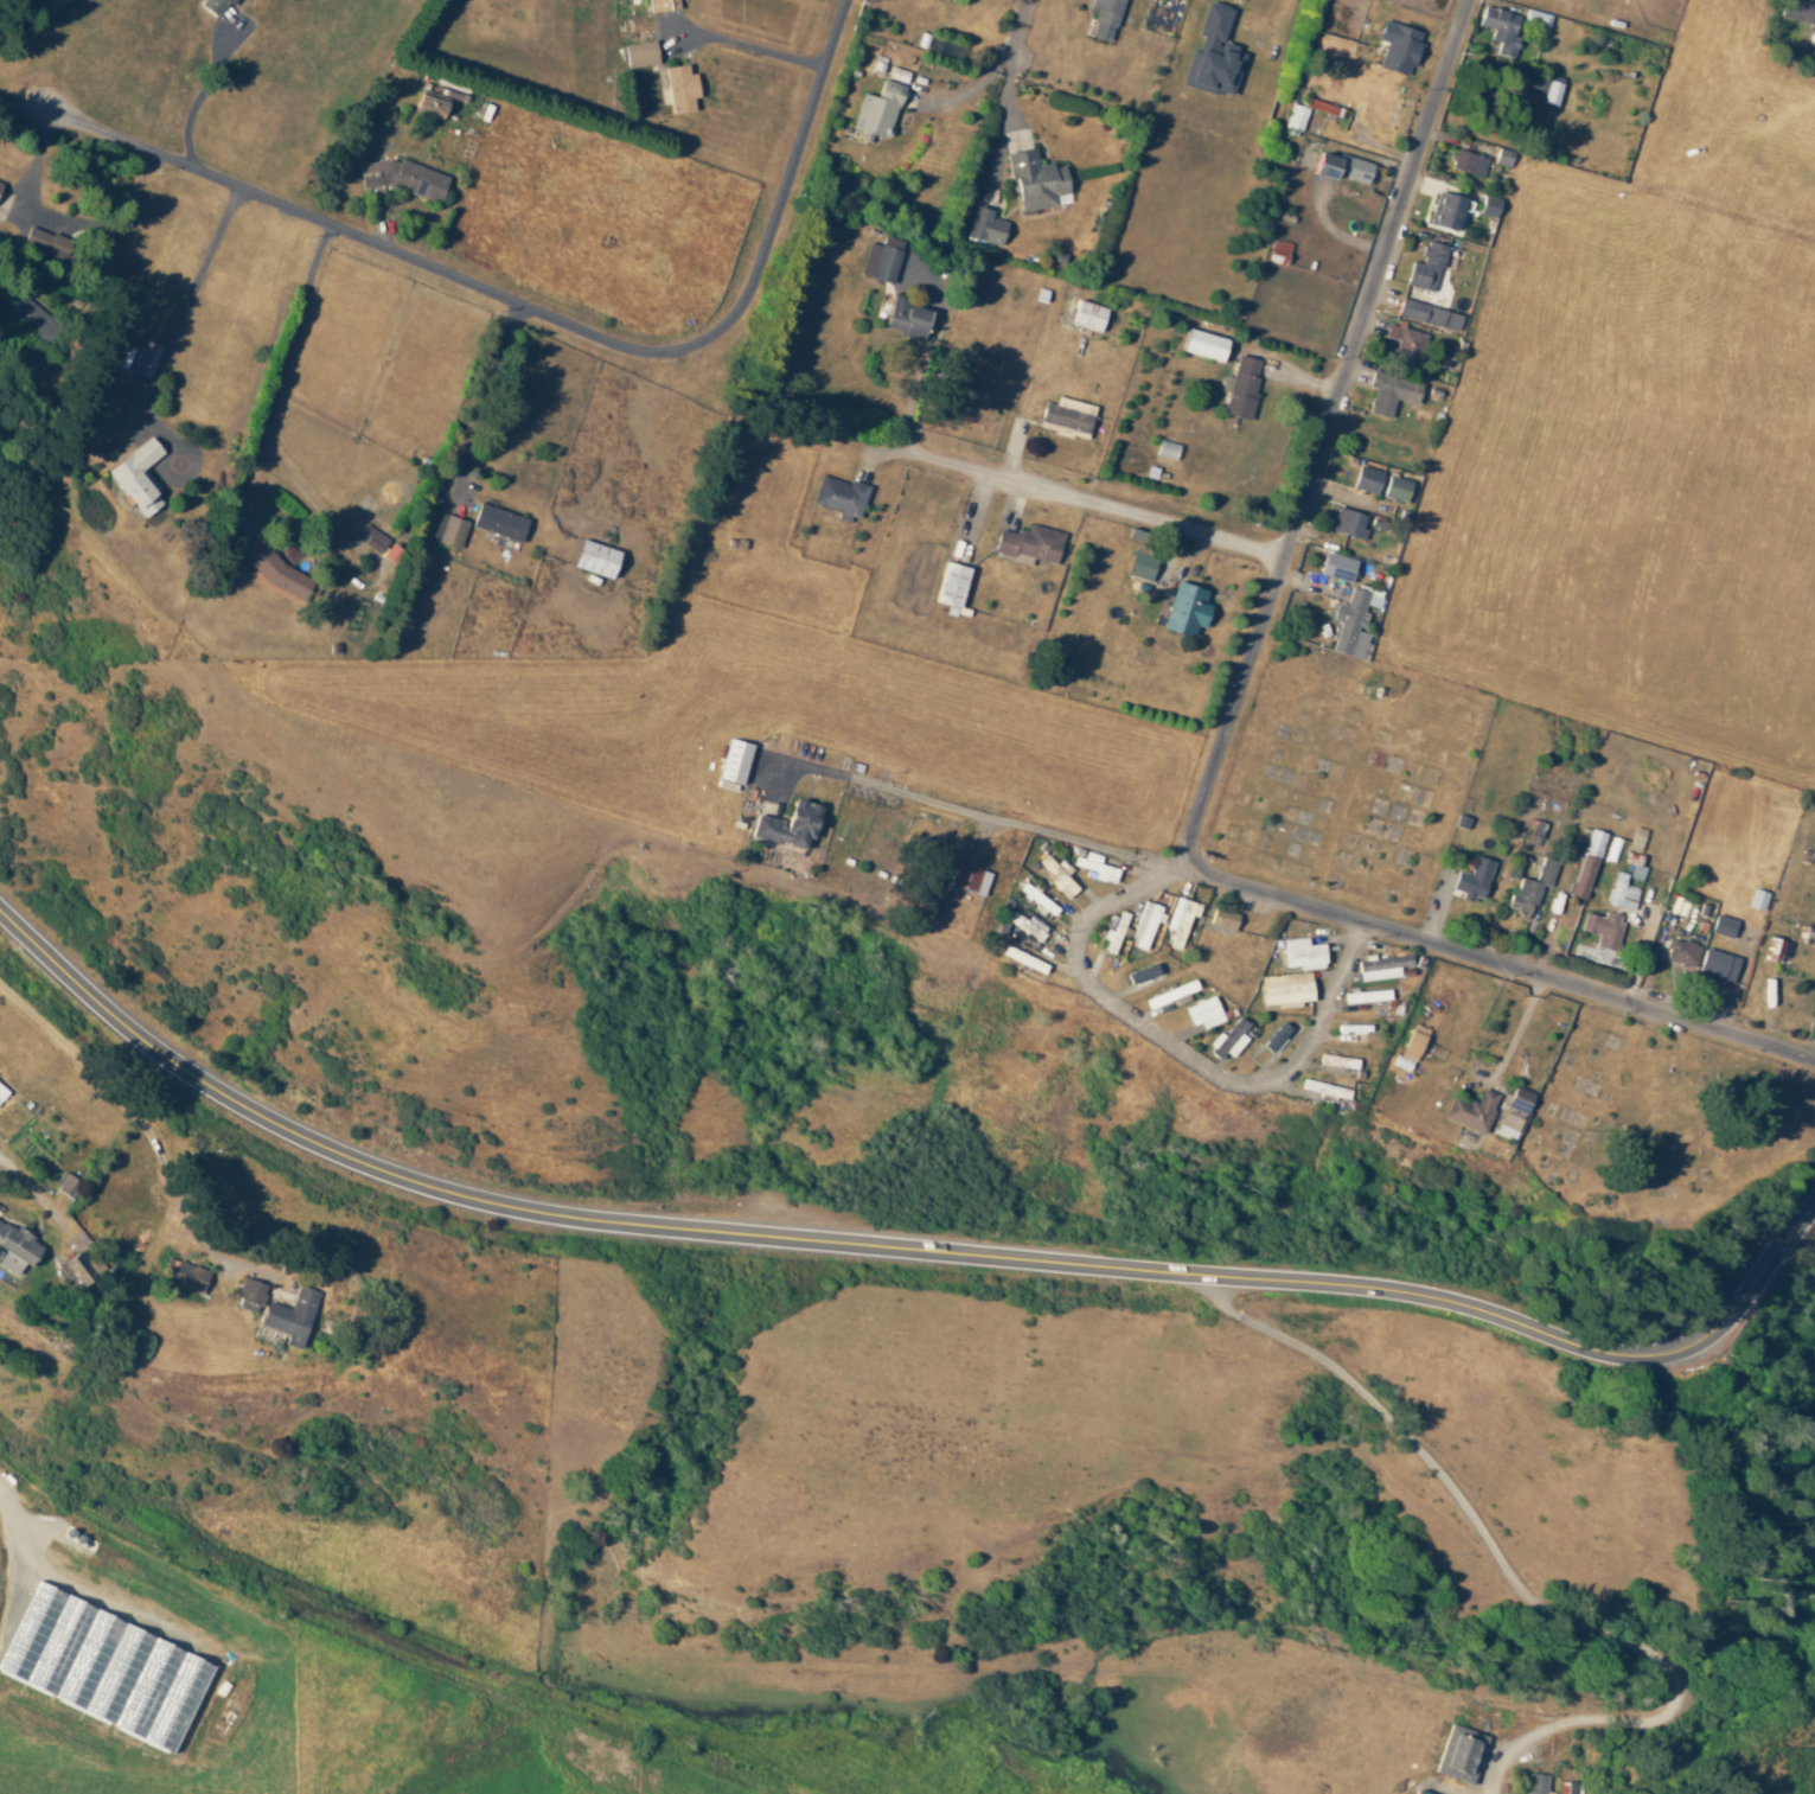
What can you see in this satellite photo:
building: (662, 5)
building: (217, 7)
building: (1796, 9)
building: (1103, 18)
building: (1500, 28)
road: (1011, 30)
road: (1814, 40)
building: (1397, 47)
building: (638, 53)
building: (1212, 55)
building: (679, 88)
building: (1541, 89)
building: (428, 103)
building: (876, 110)
building: (1304, 113)
building: (1502, 157)
building: (1468, 162)
building: (1342, 167)
building: (405, 178)
building: (1034, 180)
building: (1488, 205)
building: (1444, 211)
building: (983, 226)
building: (44, 242)
building: (1277, 251)
building: (881, 258)
building: (1425, 268)
road: (523, 306)
building: (1087, 314)
building: (1427, 315)
building: (905, 318)
building: (33, 319)
road: (84, 343)
building: (1203, 344)
building: (1405, 344)
building: (142, 359)
building: (1241, 387)
building: (1389, 391)
building: (1066, 415)
road: (1386, 420)
building: (136, 477)
building: (1366, 479)
building: (1395, 487)
building: (838, 497)
road: (1088, 499)
building: (498, 522)
building: (1348, 523)
building: (448, 530)
building: (370, 538)
building: (1027, 543)
building: (389, 554)
building: (594, 558)
building: (1139, 566)
building: (1336, 567)
building: (950, 583)
building: (1184, 609)
building: (1351, 621)
road: (1220, 741)
building: (731, 761)
park: (1341, 775)
road: (1024, 823)
building: (787, 825)
building: (1612, 849)
building: (1586, 863)
building: (1097, 869)
building: (1636, 872)
building: (1057, 876)
building: (964, 877)
building: (1472, 879)
building: (1530, 887)
building: (1621, 892)
building: (1037, 899)
building: (1756, 899)
building: (1178, 919)
building: (1222, 919)
building: (1144, 924)
building: (1025, 925)
building: (1721, 925)
building: (1602, 928)
building: (1114, 933)
building: (1772, 949)
building: (1680, 952)
building: (1302, 953)
building: (1717, 964)
building: (1381, 966)
building: (1140, 973)
building: (1284, 988)
building: (1169, 994)
building: (1203, 1013)
building: (1274, 1036)
building: (1227, 1040)
building: (1413, 1041)
road: (1176, 1046)
building: (1337, 1061)
building: (1323, 1088)
building: (2, 1092)
building: (1471, 1111)
building: (1513, 1113)
park: (1660, 1128)
building: (66, 1185)
road: (32, 1189)
road: (900, 1246)
building: (15, 1247)
building: (82, 1265)
building: (184, 1275)
building: (249, 1295)
building: (290, 1315)
building: (1458, 1752)
building: (1534, 1785)

